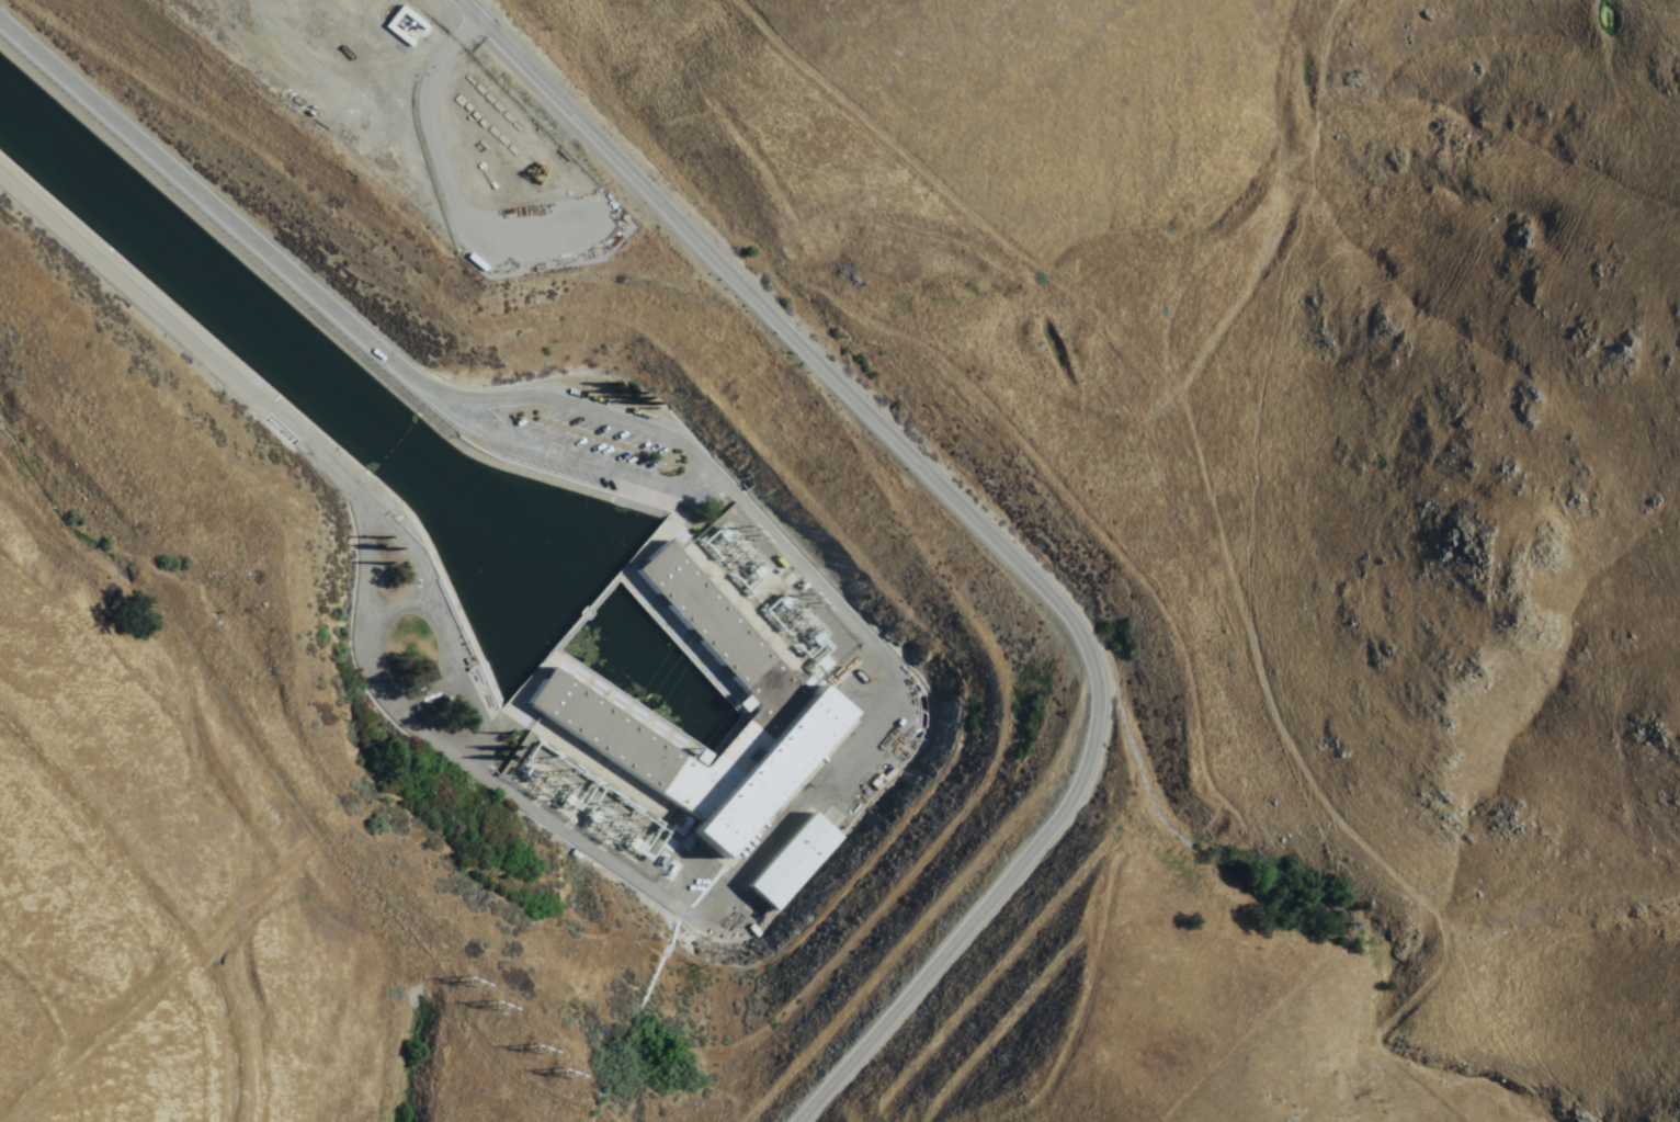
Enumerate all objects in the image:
road: (166, 316)
road: (559, 401)
road: (983, 526)
building: (797, 700)
road: (463, 760)
power tower: (563, 768)
power tower: (583, 781)
power tower: (626, 811)
power tower: (648, 823)
building: (798, 863)
power tower: (475, 985)
power tower: (502, 1009)
power tower: (541, 1052)
power tower: (570, 1077)

